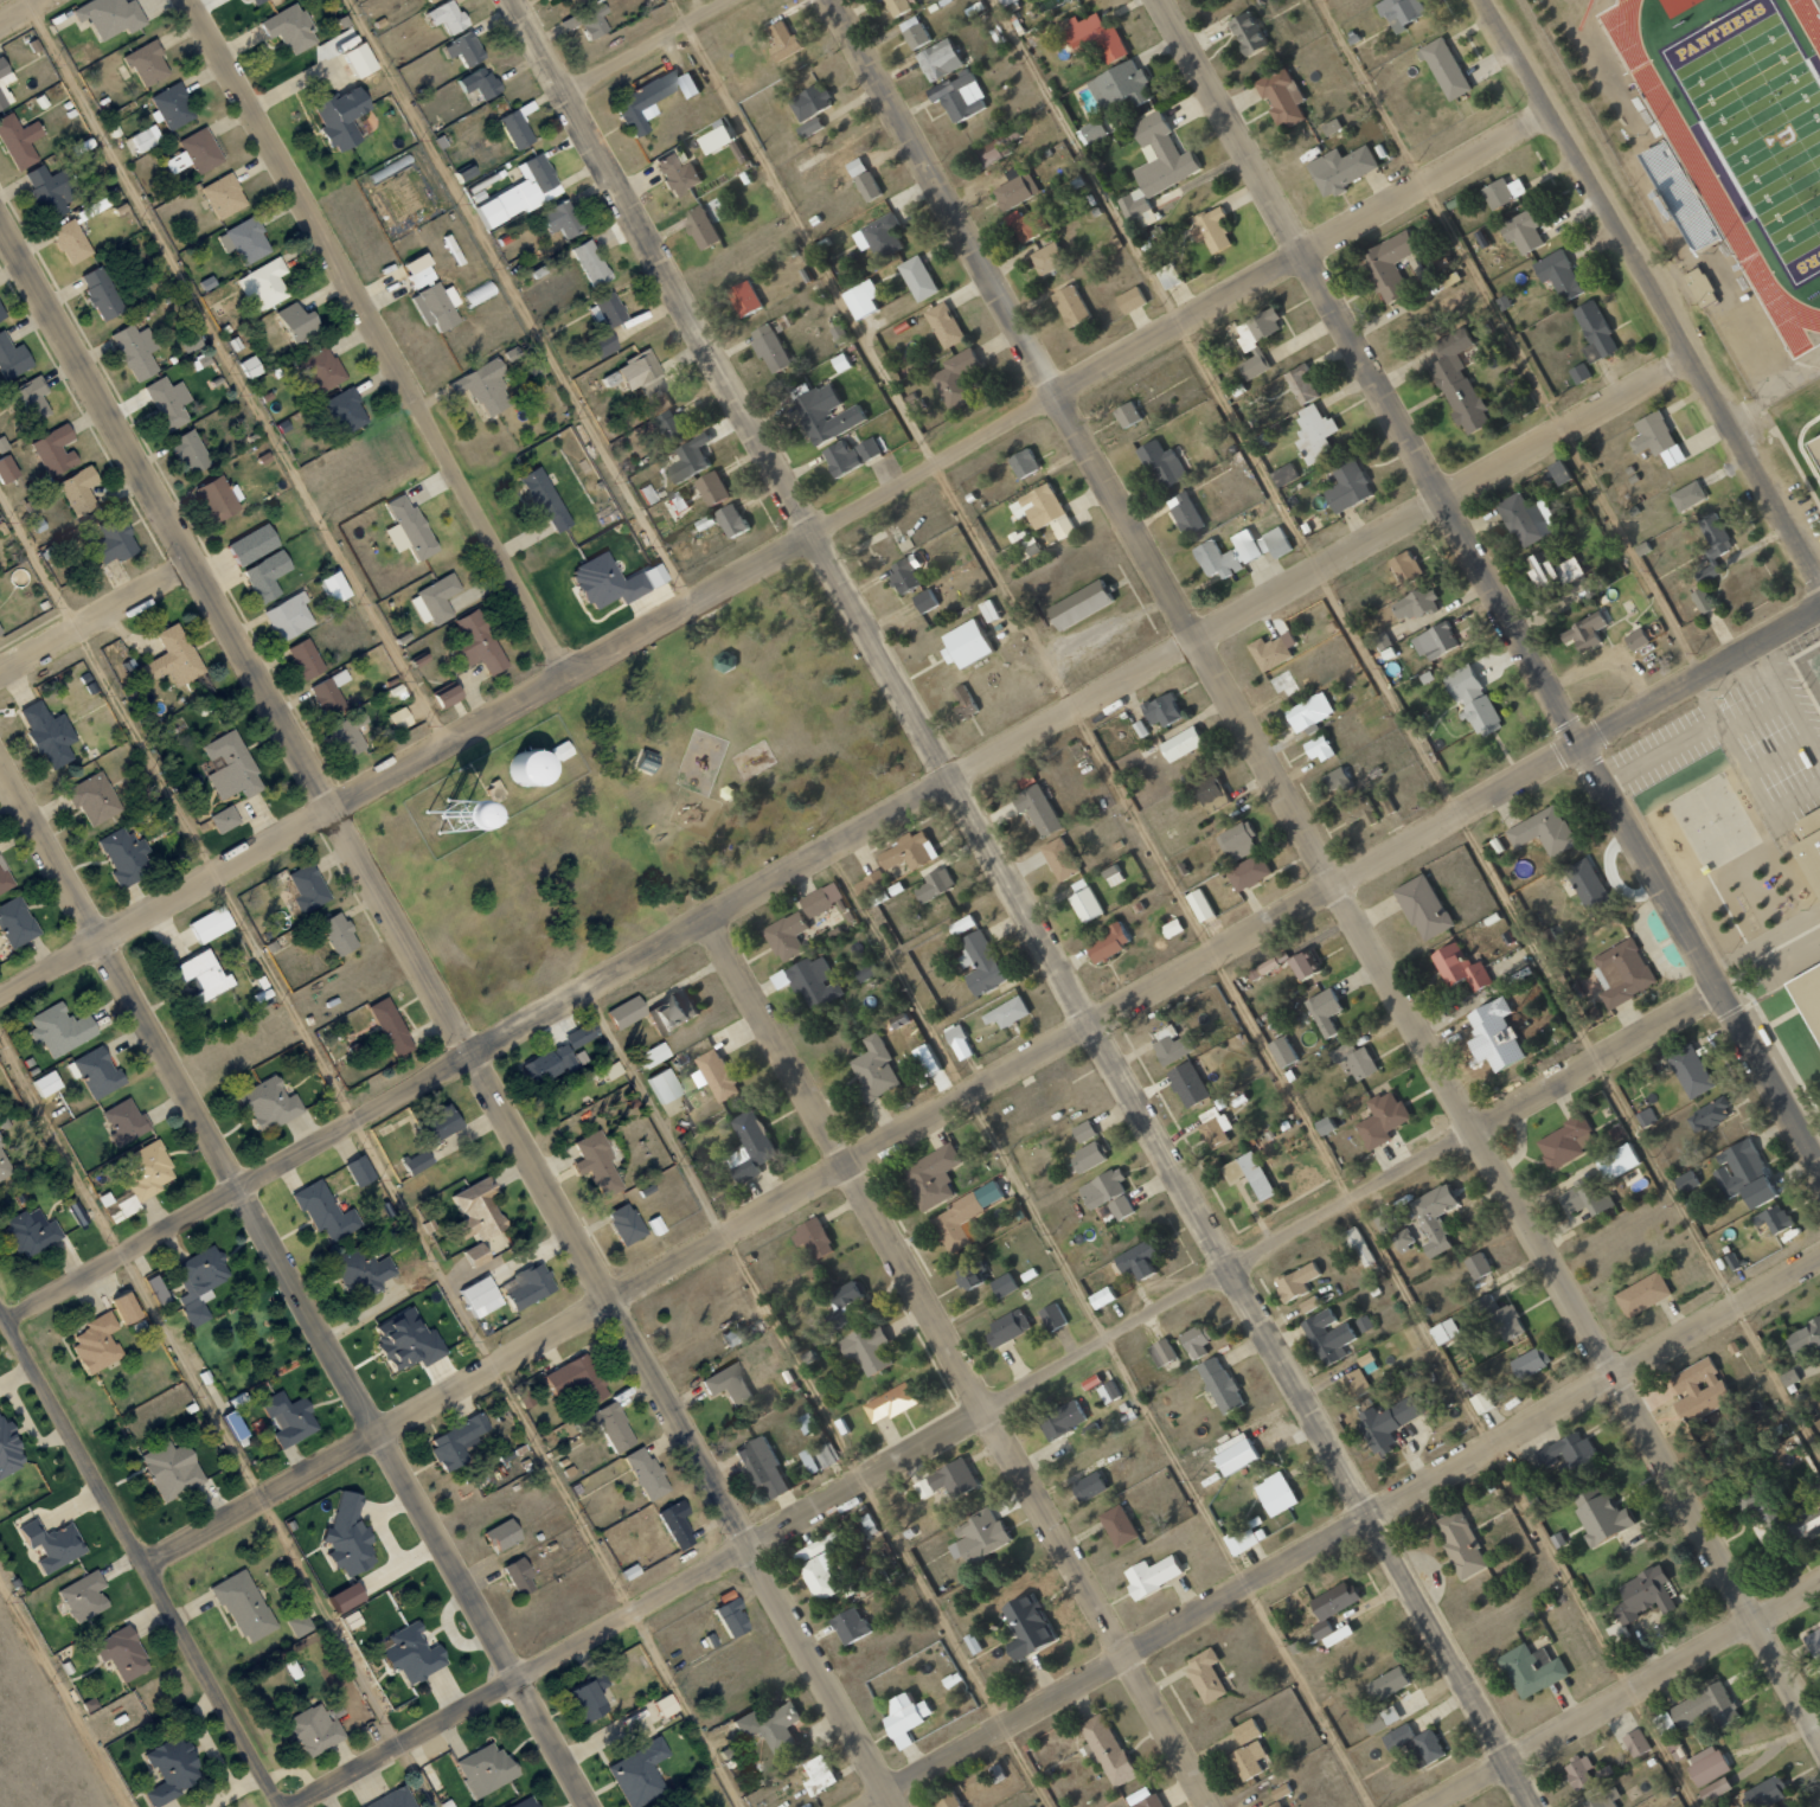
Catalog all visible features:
building: (250, 1)
building: (568, 1)
building: (1006, 1)
building: (899, 5)
road: (13, 8)
building: (1399, 12)
track: (1812, 14)
building: (110, 15)
building: (441, 15)
track: (1632, 19)
building: (583, 20)
building: (286, 28)
building: (914, 32)
building: (1247, 32)
building: (1095, 38)
building: (783, 41)
building: (460, 49)
road: (668, 53)
building: (353, 59)
building: (938, 59)
building: (148, 63)
building: (1444, 69)
building: (5, 81)
building: (475, 82)
building: (1121, 85)
building: (960, 96)
building: (1281, 96)
building: (640, 101)
building: (810, 102)
building: (174, 105)
building: (334, 117)
park: (1763, 118)
building: (809, 127)
building: (1331, 127)
building: (512, 128)
building: (1091, 132)
building: (147, 137)
building: (716, 139)
building: (20, 140)
building: (996, 147)
building: (1156, 164)
building: (1340, 169)
building: (461, 173)
building: (674, 174)
building: (864, 179)
track: (1709, 179)
building: (1013, 186)
building: (51, 191)
building: (517, 192)
building: (1502, 192)
building: (1684, 193)
building: (225, 196)
building: (94, 207)
building: (558, 218)
building: (1027, 223)
building: (700, 226)
building: (1211, 229)
building: (1523, 230)
building: (879, 236)
building: (246, 239)
building: (72, 241)
building: (1046, 258)
building: (588, 262)
building: (1388, 267)
building: (414, 270)
building: (1168, 275)
building: (1558, 275)
building: (917, 277)
building: (1450, 280)
building: (207, 282)
building: (263, 286)
building: (1699, 287)
road: (1651, 291)
building: (102, 293)
building: (476, 294)
building: (744, 297)
building: (861, 299)
building: (1129, 300)
road: (520, 302)
building: (431, 306)
building: (1070, 306)
building: (603, 309)
track: (1800, 312)
building: (1, 313)
building: (300, 322)
building: (943, 325)
building: (1258, 328)
building: (1595, 332)
road: (1513, 337)
road: (374, 338)
building: (598, 344)
building: (769, 346)
building: (137, 350)
building: (13, 357)
building: (1254, 365)
building: (252, 366)
building: (322, 369)
building: (633, 370)
road: (237, 372)
building: (1579, 373)
building: (956, 378)
building: (1457, 382)
building: (1301, 384)
building: (479, 386)
building: (31, 399)
building: (168, 403)
building: (346, 411)
building: (826, 414)
building: (1127, 414)
building: (671, 427)
building: (1314, 432)
building: (1656, 438)
building: (1816, 442)
building: (869, 449)
building: (57, 450)
building: (193, 451)
building: (842, 457)
building: (690, 459)
building: (1024, 462)
building: (1162, 463)
building: (8, 469)
building: (1559, 472)
building: (1284, 475)
building: (1347, 487)
building: (712, 488)
building: (81, 491)
building: (1687, 495)
building: (538, 498)
building: (218, 499)
building: (675, 504)
building: (1038, 506)
building: (1185, 513)
building: (1526, 519)
building: (731, 520)
building: (414, 526)
building: (1063, 527)
building: (115, 540)
building: (1274, 543)
building: (256, 544)
road: (773, 553)
building: (1226, 555)
building: (1710, 558)
building: (1403, 569)
building: (1542, 571)
building: (905, 574)
building: (269, 575)
building: (647, 575)
building: (601, 582)
road: (1489, 584)
building: (339, 587)
building: (436, 600)
building: (924, 601)
building: (1081, 604)
building: (1415, 604)
building: (989, 610)
road: (92, 615)
building: (291, 616)
building: (1584, 632)
building: (0, 634)
building: (1636, 639)
building: (1382, 640)
building: (1435, 641)
building: (479, 643)
building: (966, 645)
building: (1268, 652)
building: (174, 658)
building: (307, 658)
building: (329, 692)
building: (448, 694)
building: (962, 700)
building: (1472, 700)
building: (1162, 710)
building: (1308, 712)
building: (400, 718)
road: (1409, 726)
building: (50, 733)
building: (347, 737)
building: (1180, 744)
building: (1318, 748)
building: (527, 764)
storage tank: (527, 764)
building: (232, 767)
building: (1338, 782)
building: (1207, 788)
water tower: (428, 794)
park: (655, 796)
building: (95, 797)
building: (1358, 808)
building: (1037, 809)
building: (225, 819)
building: (1543, 831)
road: (848, 841)
building: (1238, 841)
building: (1813, 842)
building: (909, 851)
building: (124, 856)
building: (1060, 858)
road: (1324, 870)
building: (1248, 872)
building: (1113, 874)
building: (6, 879)
building: (870, 883)
building: (934, 885)
building: (1588, 886)
building: (307, 888)
building: (816, 902)
road: (1021, 902)
road: (1187, 903)
building: (1085, 904)
building: (1199, 905)
building: (1423, 906)
building: (18, 921)
building: (212, 924)
building: (1172, 928)
building: (340, 934)
building: (789, 935)
building: (1108, 943)
building: (982, 963)
building: (1303, 963)
building: (1268, 965)
building: (1459, 967)
building: (866, 972)
building: (1622, 972)
building: (206, 975)
building: (816, 981)
building: (1808, 993)
building: (628, 1011)
building: (1324, 1011)
building: (680, 1012)
building: (1006, 1012)
road: (446, 1017)
building: (392, 1026)
building: (62, 1029)
building: (582, 1033)
building: (959, 1042)
building: (1173, 1044)
building: (1282, 1051)
building: (925, 1059)
building: (1354, 1059)
building: (550, 1065)
building: (874, 1070)
building: (1690, 1070)
building: (100, 1072)
building: (720, 1075)
building: (49, 1083)
building: (1187, 1083)
building: (667, 1085)
road: (981, 1085)
building: (270, 1103)
building: (1707, 1114)
building: (1646, 1116)
building: (1382, 1119)
building: (126, 1121)
building: (441, 1123)
building: (1325, 1126)
building: (1216, 1128)
building: (1084, 1130)
building: (1565, 1142)
building: (757, 1143)
road: (371, 1149)
building: (1087, 1156)
building: (1616, 1161)
building: (418, 1162)
building: (598, 1162)
building: (4, 1165)
building: (148, 1168)
building: (361, 1172)
building: (1249, 1174)
building: (1743, 1174)
building: (931, 1175)
building: (1686, 1181)
building: (1102, 1187)
building: (115, 1193)
building: (1583, 1196)
building: (1121, 1206)
building: (481, 1209)
building: (326, 1211)
building: (79, 1213)
building: (962, 1217)
building: (1434, 1217)
building: (1775, 1218)
building: (1386, 1220)
building: (627, 1223)
building: (31, 1233)
building: (1403, 1238)
building: (812, 1239)
building: (1358, 1245)
building: (476, 1255)
building: (1136, 1260)
building: (1478, 1264)
building: (364, 1271)
building: (970, 1274)
building: (1295, 1281)
building: (201, 1283)
building: (1004, 1284)
building: (158, 1287)
building: (528, 1287)
road: (295, 1288)
building: (847, 1294)
building: (1642, 1294)
building: (483, 1296)
building: (1102, 1297)
building: (1309, 1305)
building: (129, 1308)
building: (1052, 1316)
building: (1499, 1316)
building: (1365, 1322)
building: (1007, 1326)
road: (1104, 1328)
building: (1444, 1331)
building: (736, 1333)
building: (1328, 1337)
building: (1803, 1338)
building: (1196, 1341)
building: (98, 1343)
building: (408, 1343)
building: (867, 1348)
building: (1161, 1352)
road: (959, 1363)
building: (1530, 1363)
building: (1788, 1377)
building: (581, 1379)
building: (1356, 1383)
building: (1220, 1384)
building: (732, 1385)
building: (1109, 1391)
building: (1697, 1391)
road: (1004, 1396)
road: (818, 1397)
building: (1481, 1402)
building: (890, 1403)
road: (219, 1417)
building: (290, 1418)
building: (1062, 1420)
building: (1386, 1422)
building: (609, 1425)
building: (457, 1442)
building: (9, 1448)
building: (1565, 1452)
building: (1235, 1453)
building: (763, 1468)
building: (173, 1469)
building: (647, 1473)
building: (947, 1480)
building: (1088, 1486)
building: (1275, 1494)
building: (1761, 1507)
building: (1600, 1514)
building: (679, 1524)
building: (1117, 1525)
building: (1812, 1527)
road: (1340, 1532)
building: (505, 1534)
building: (351, 1536)
building: (980, 1537)
building: (1241, 1539)
building: (53, 1544)
building: (1460, 1544)
road: (140, 1559)
building: (824, 1563)
building: (521, 1575)
building: (1152, 1575)
building: (1642, 1595)
building: (85, 1596)
building: (351, 1597)
building: (245, 1607)
building: (1332, 1613)
building: (733, 1619)
building: (301, 1623)
building: (851, 1625)
building: (1026, 1626)
building: (1814, 1640)
building: (123, 1653)
building: (412, 1654)
building: (1531, 1670)
building: (1205, 1674)
building: (1386, 1683)
road: (64, 1692)
road: (1624, 1694)
building: (585, 1696)
building: (661, 1705)
building: (1704, 1706)
building: (905, 1717)
building: (1380, 1719)
building: (1665, 1724)
building: (769, 1725)
building: (315, 1730)
building: (1247, 1730)
building: (1636, 1743)
building: (1415, 1744)
building: (1107, 1750)
building: (1249, 1758)
building: (1706, 1764)
building: (481, 1768)
building: (172, 1769)
building: (1579, 1770)
building: (635, 1773)
building: (818, 1775)
building: (1715, 1788)
building: (1281, 1790)
building: (1767, 1792)
building: (387, 1799)
building: (947, 1799)
building: (1147, 1799)
building: (1603, 1799)
building: (519, 1802)
building: (1275, 1805)

